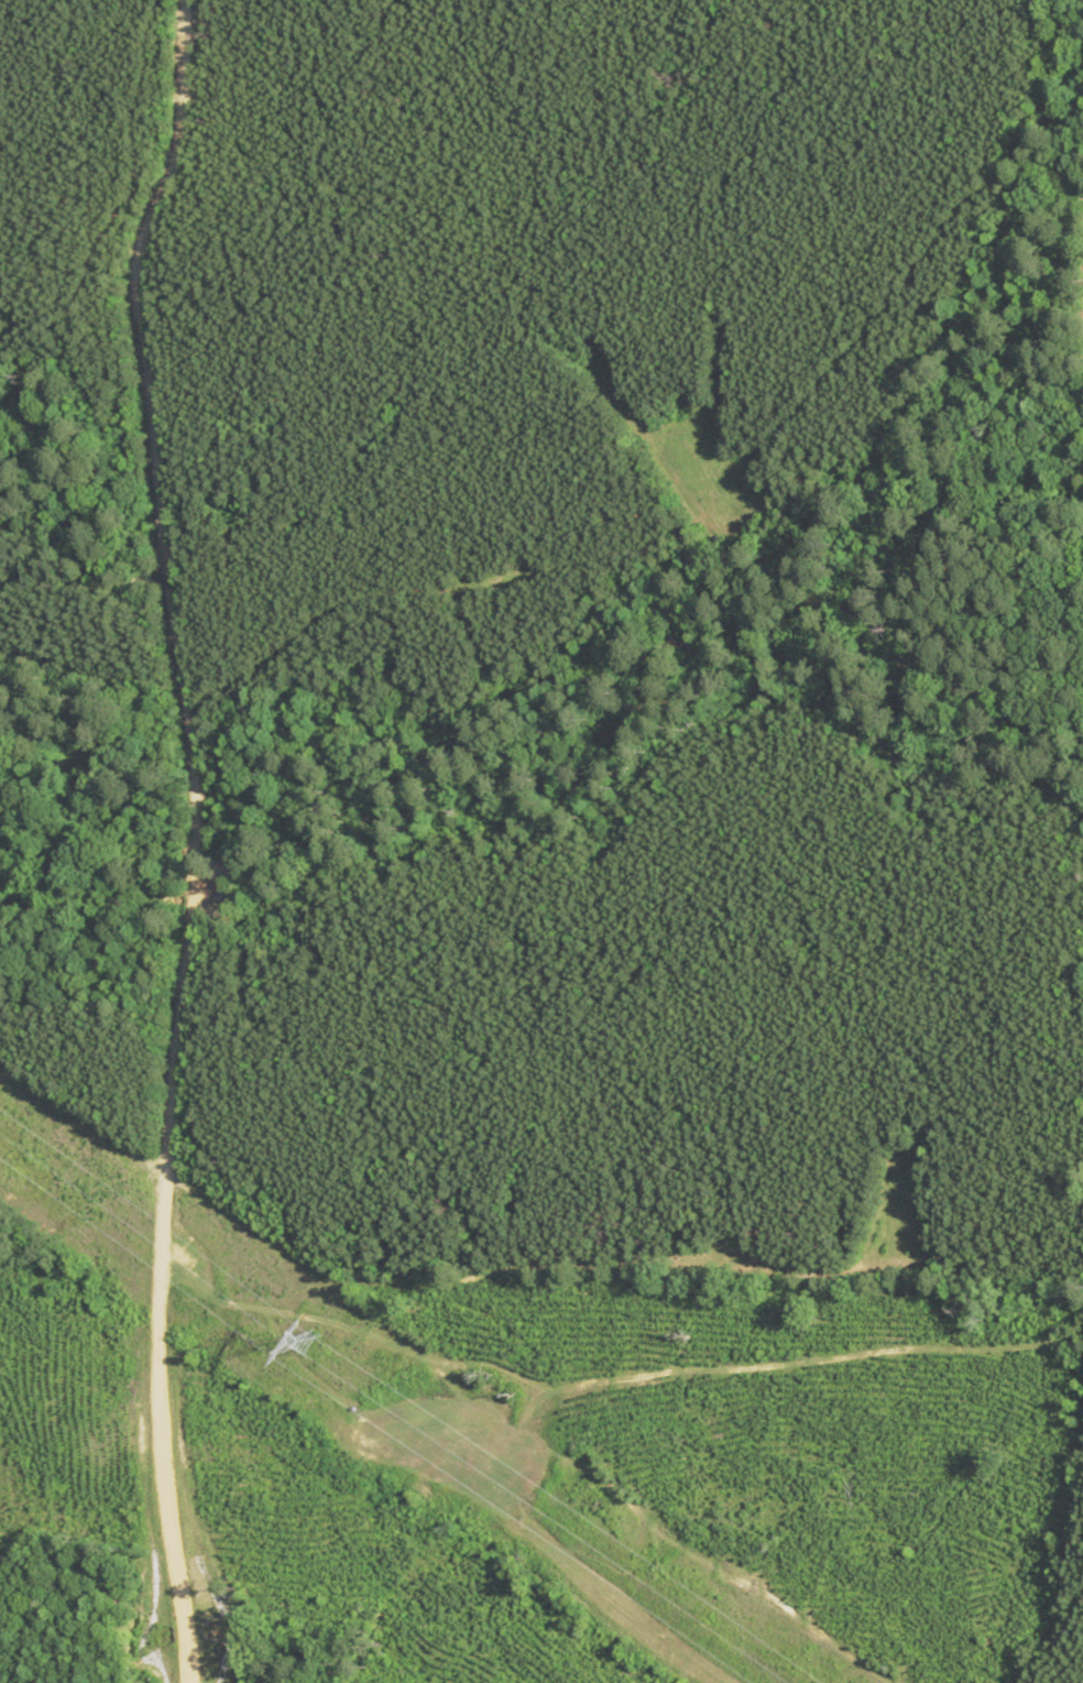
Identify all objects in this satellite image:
road: (168, 846)
power tower: (313, 1345)

